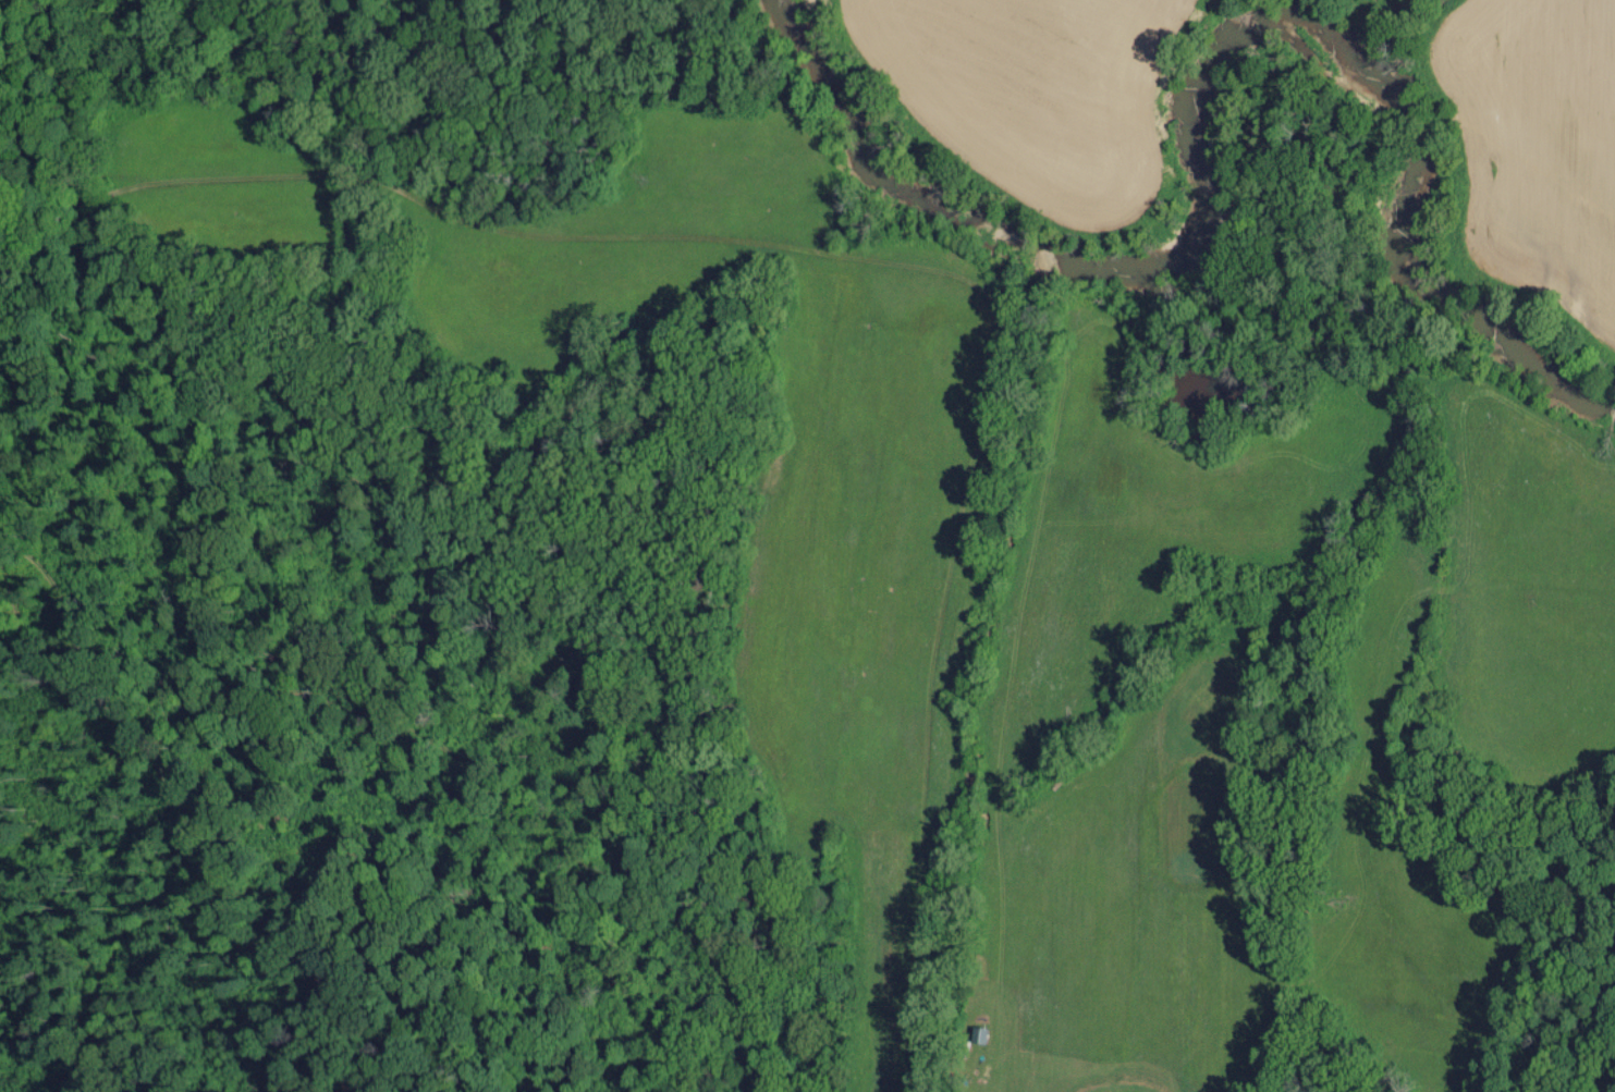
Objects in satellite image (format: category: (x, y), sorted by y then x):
river: (1207, 90)

